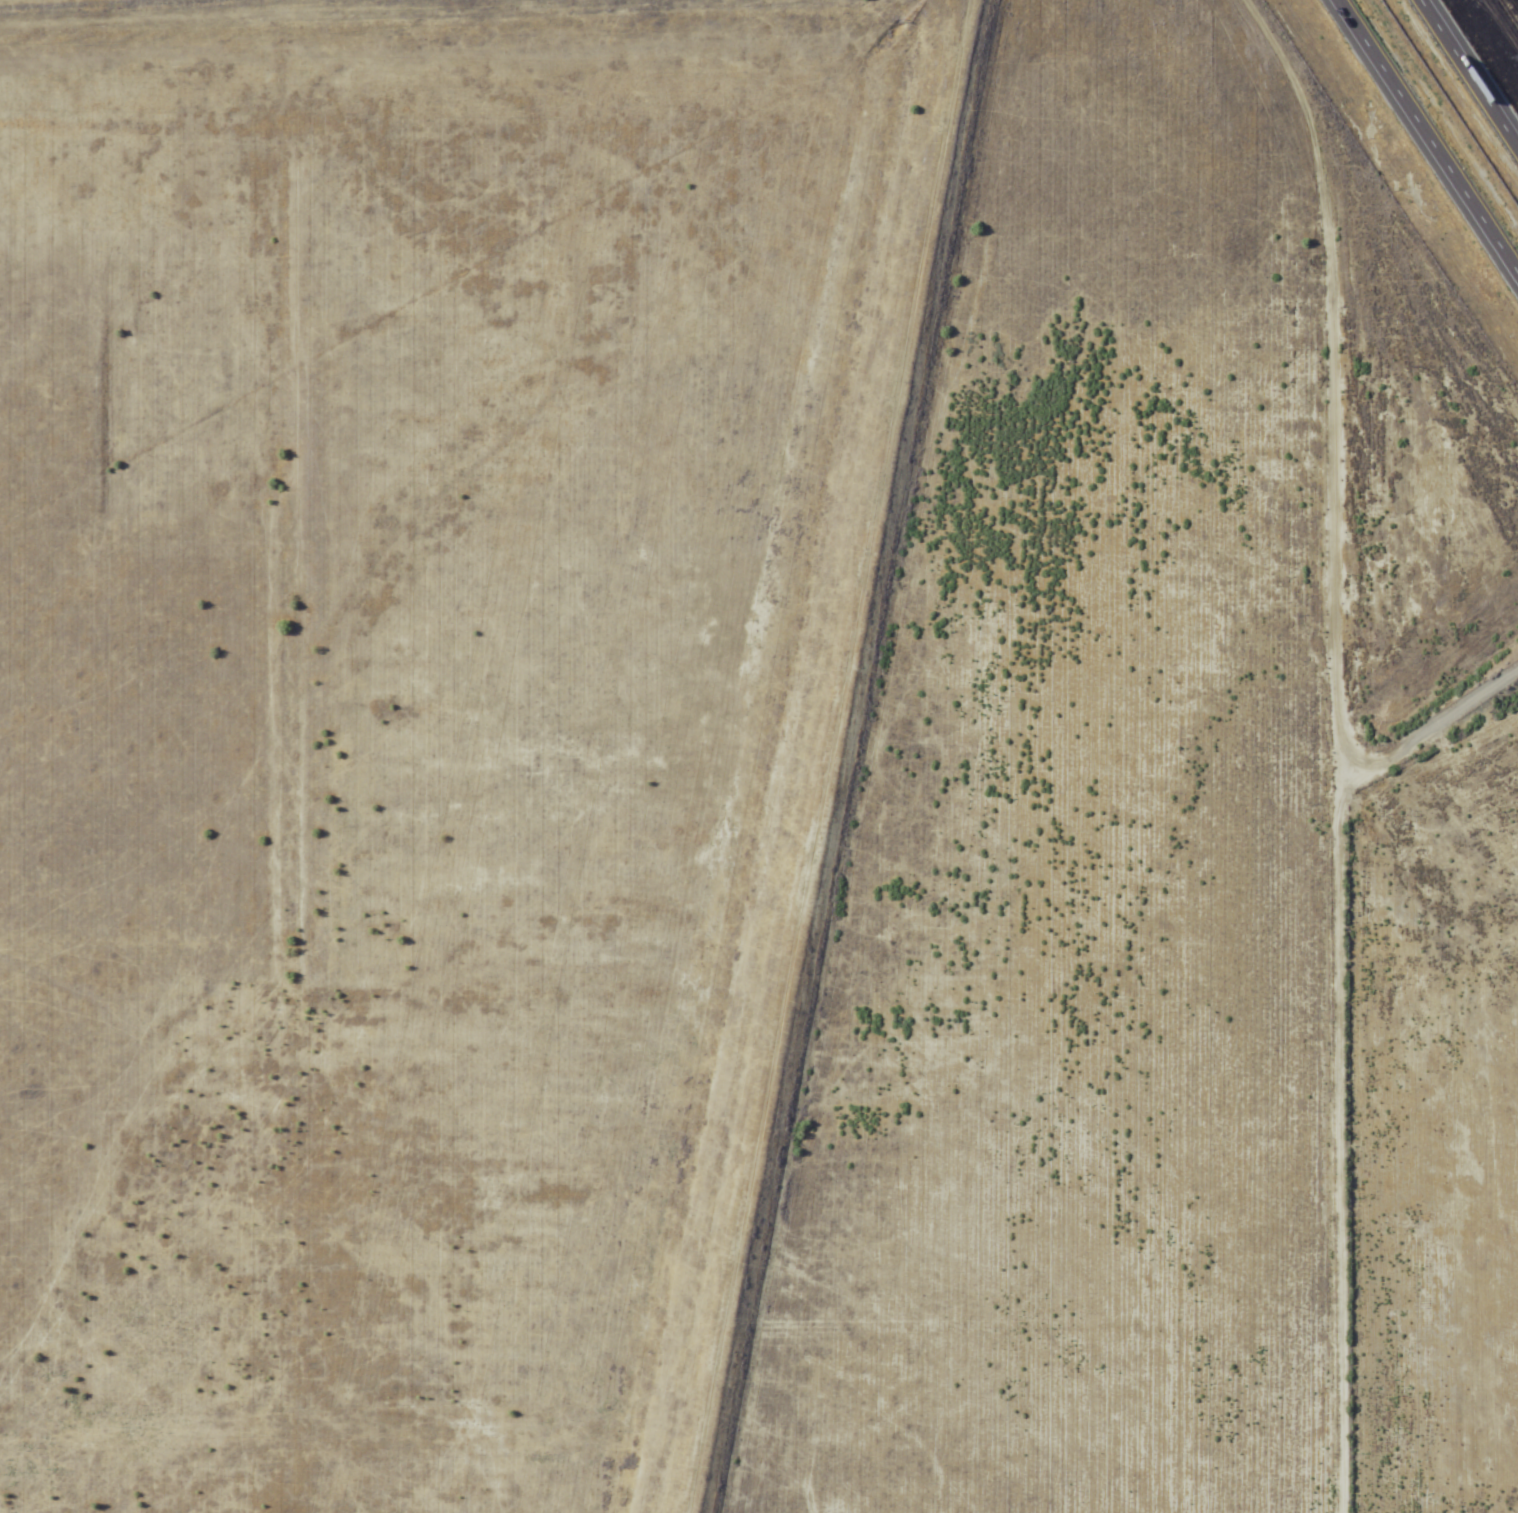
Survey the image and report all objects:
road: (1473, 66)
road: (1429, 134)
road: (1417, 739)
road: (1316, 745)

